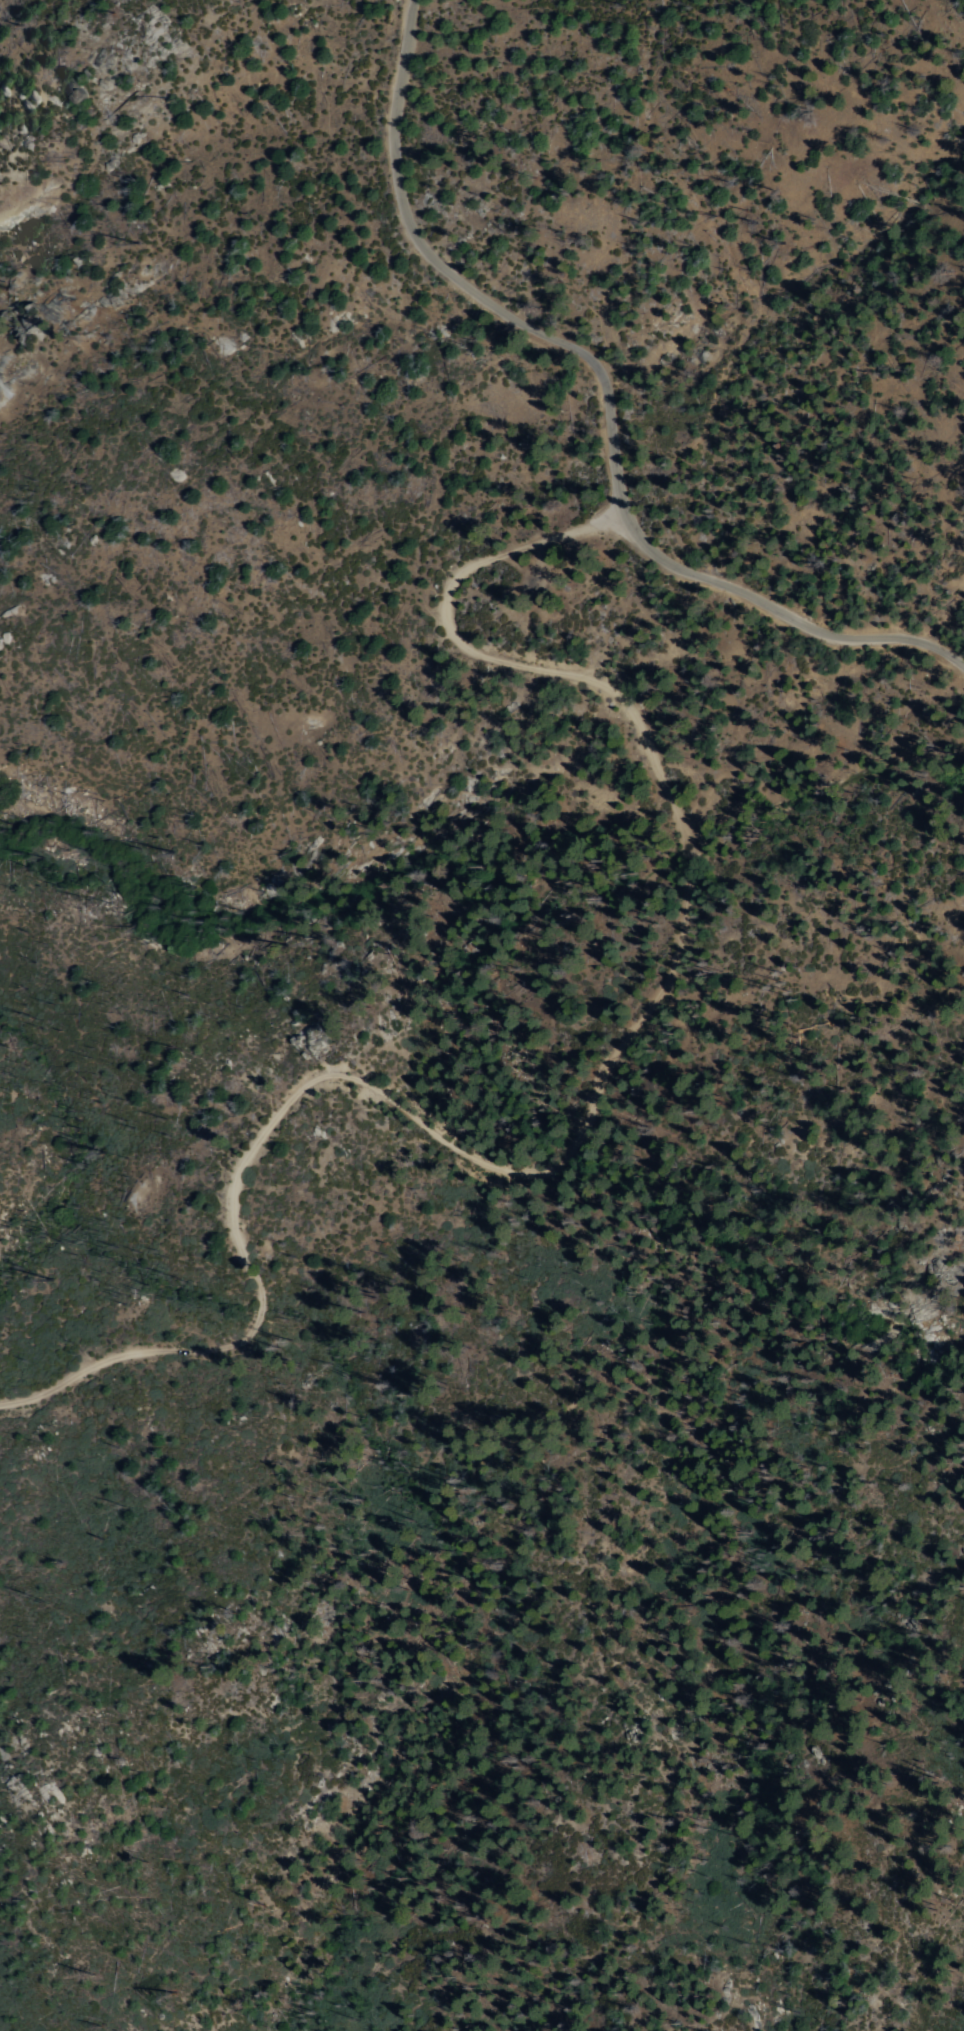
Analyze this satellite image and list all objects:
road: (607, 400)
road: (586, 1112)

